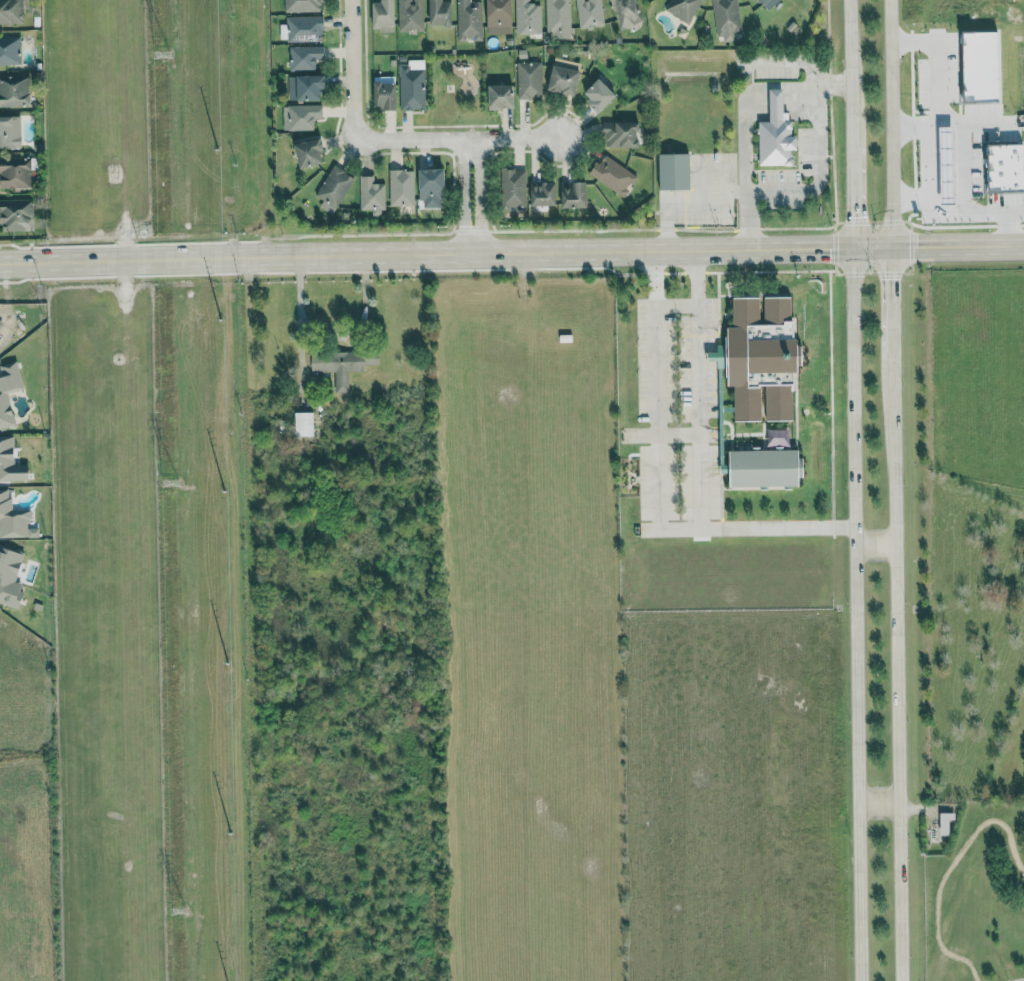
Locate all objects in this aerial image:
building: (769, 3)
building: (302, 5)
building: (683, 8)
building: (11, 12)
building: (440, 13)
building: (589, 13)
building: (625, 13)
building: (383, 15)
building: (410, 15)
building: (557, 15)
building: (499, 17)
building: (527, 17)
building: (469, 19)
building: (727, 20)
building: (304, 29)
building: (10, 50)
power tower: (162, 50)
building: (305, 57)
road: (353, 70)
road: (848, 74)
building: (529, 80)
building: (564, 80)
road: (833, 84)
building: (411, 86)
building: (306, 87)
road: (940, 87)
building: (14, 91)
park: (455, 92)
building: (385, 95)
building: (600, 95)
building: (501, 96)
road: (743, 106)
building: (300, 117)
road: (891, 124)
building: (10, 132)
building: (622, 134)
building: (777, 134)
road: (461, 140)
building: (310, 153)
road: (817, 158)
building: (675, 171)
building: (15, 172)
building: (613, 175)
road: (932, 186)
building: (402, 187)
building: (334, 188)
building: (432, 188)
building: (513, 189)
building: (543, 193)
building: (574, 194)
building: (371, 195)
road: (461, 199)
road: (478, 199)
road: (850, 199)
road: (693, 209)
road: (983, 213)
building: (15, 215)
road: (512, 257)
road: (892, 299)
road: (675, 304)
road: (299, 310)
building: (372, 358)
building: (757, 358)
building: (338, 366)
road: (698, 389)
building: (5, 408)
building: (304, 424)
road: (679, 432)
building: (10, 462)
building: (766, 468)
power tower: (170, 482)
road: (660, 486)
building: (14, 520)
road: (874, 543)
building: (10, 578)
road: (854, 615)
road: (895, 664)
road: (877, 805)
building: (945, 823)
road: (949, 867)
park: (978, 897)
power tower: (178, 911)
road: (1016, 979)

